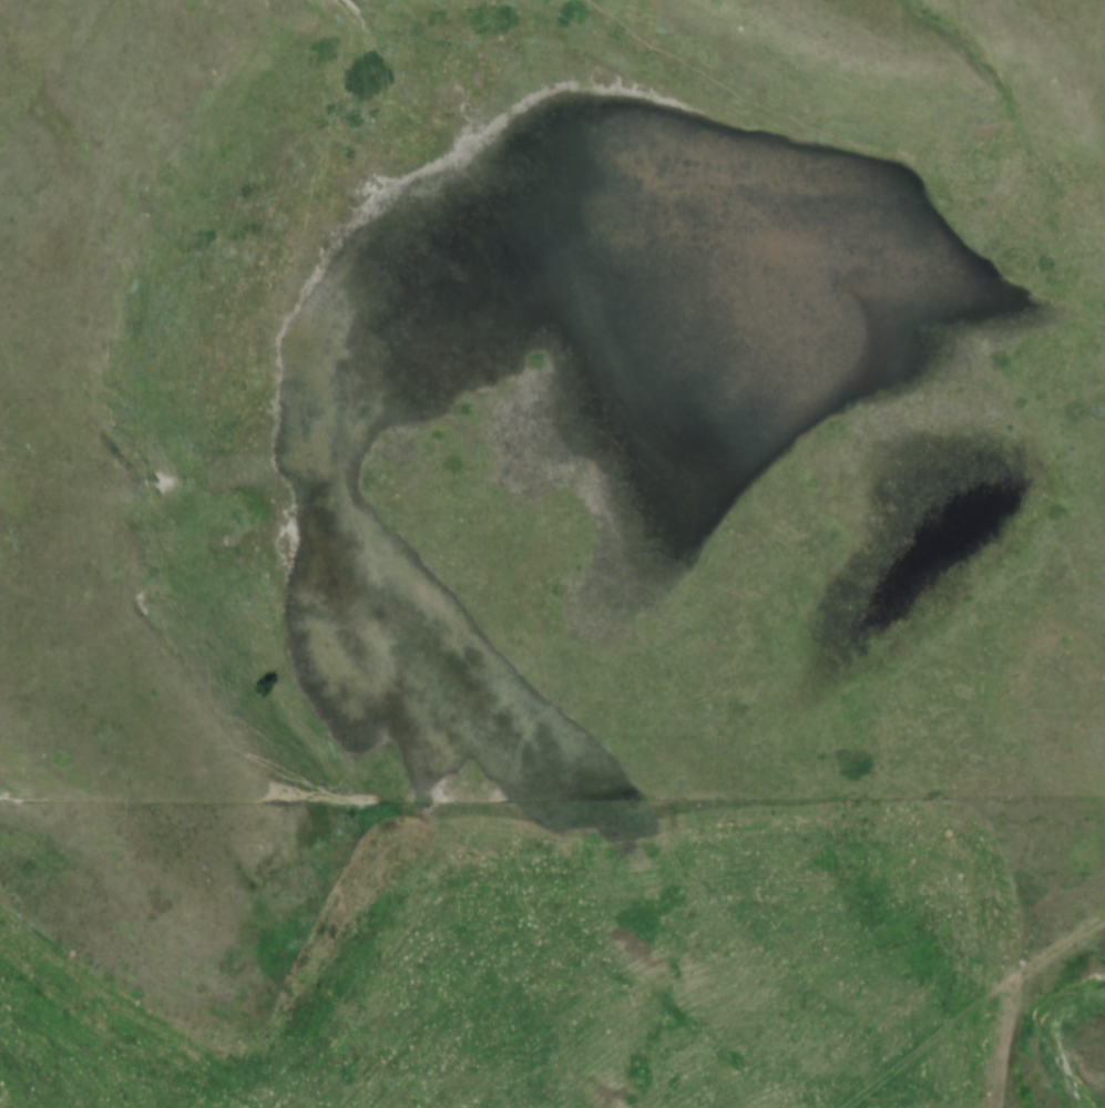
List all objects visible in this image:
road: (973, 1010)

